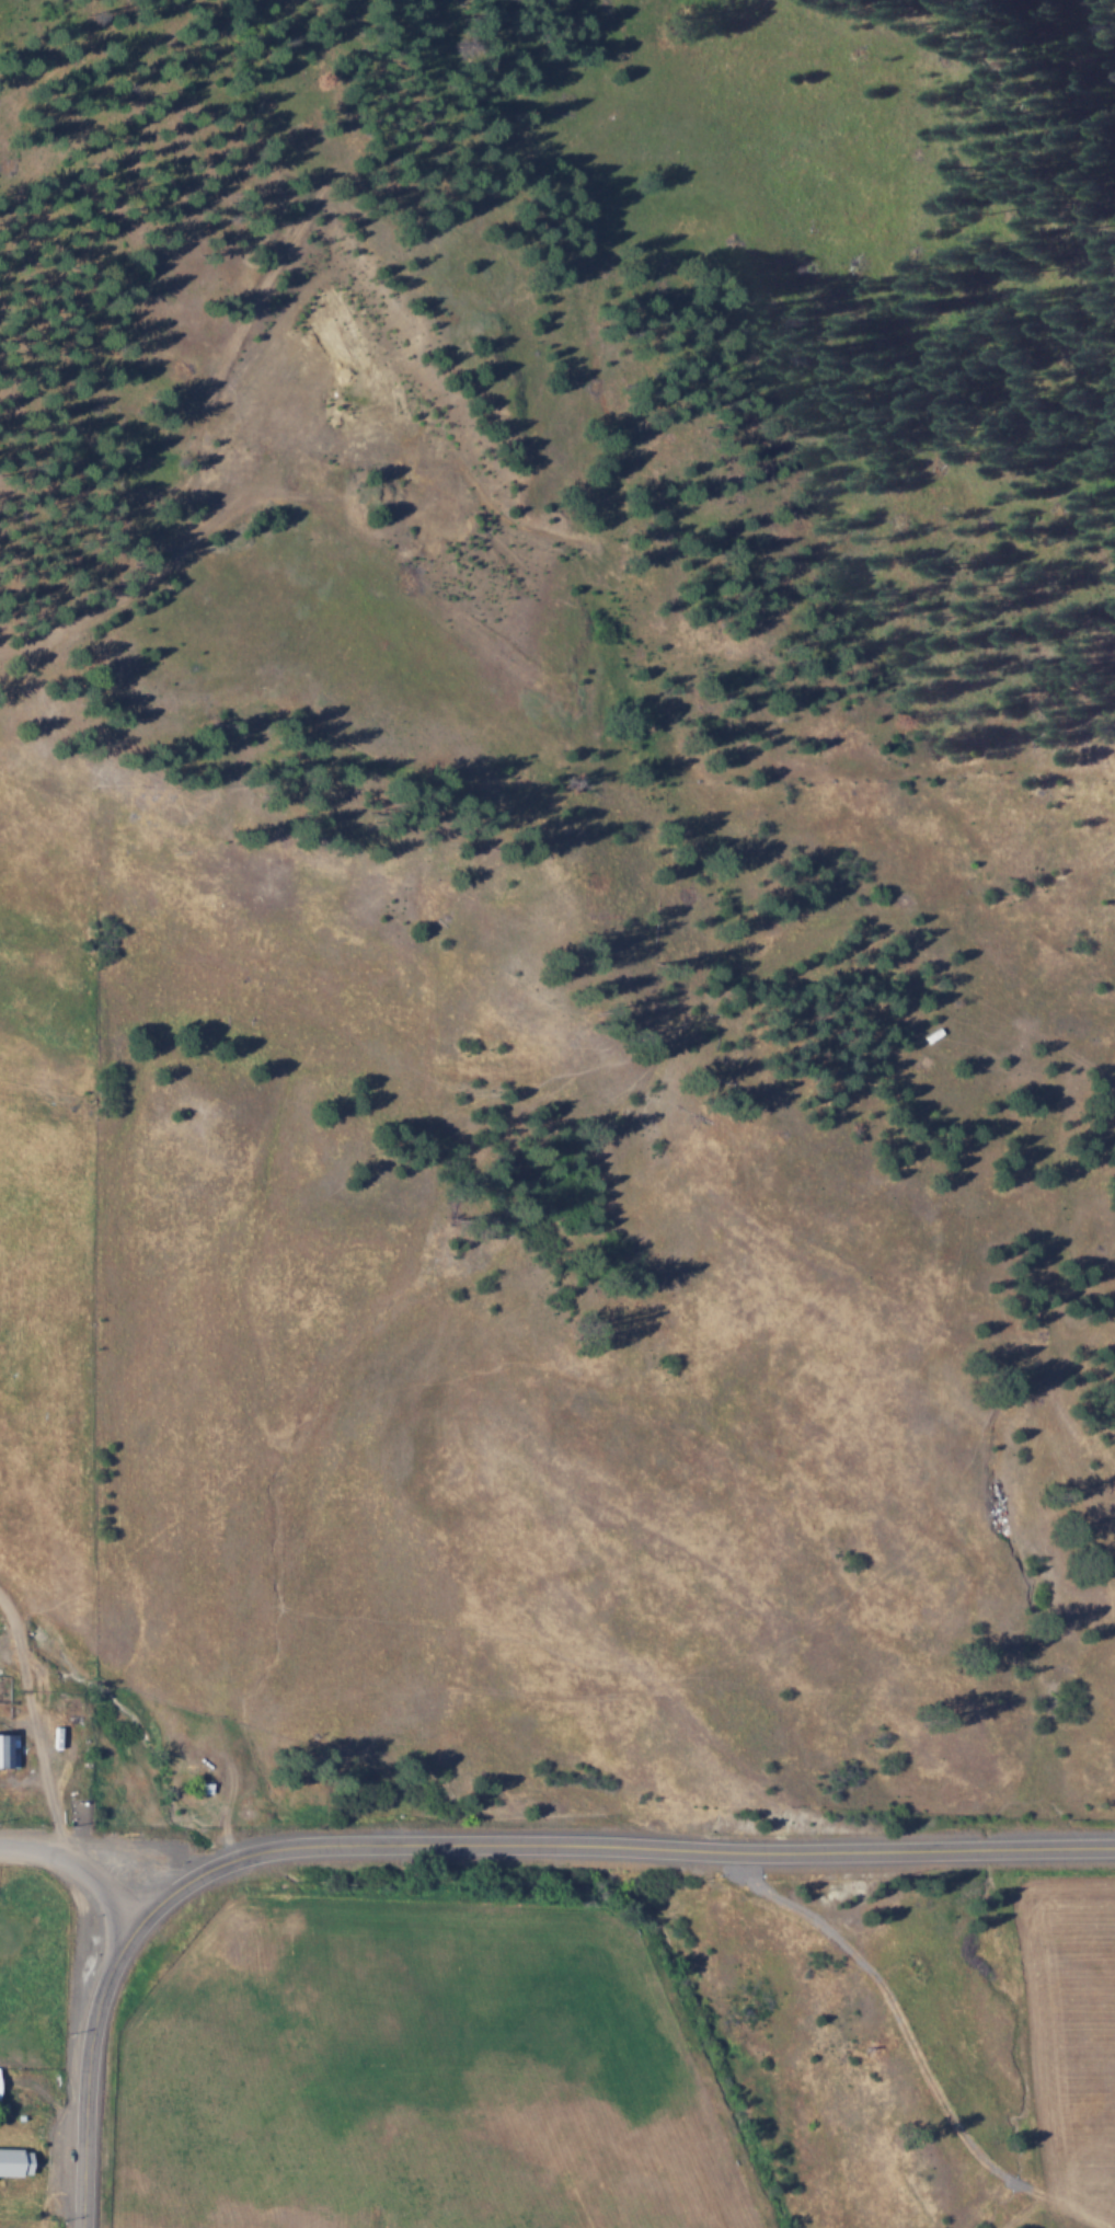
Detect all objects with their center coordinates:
building: (9, 1750)
road: (26, 1815)
road: (617, 1844)
road: (78, 1867)
road: (91, 2068)
building: (14, 2161)

